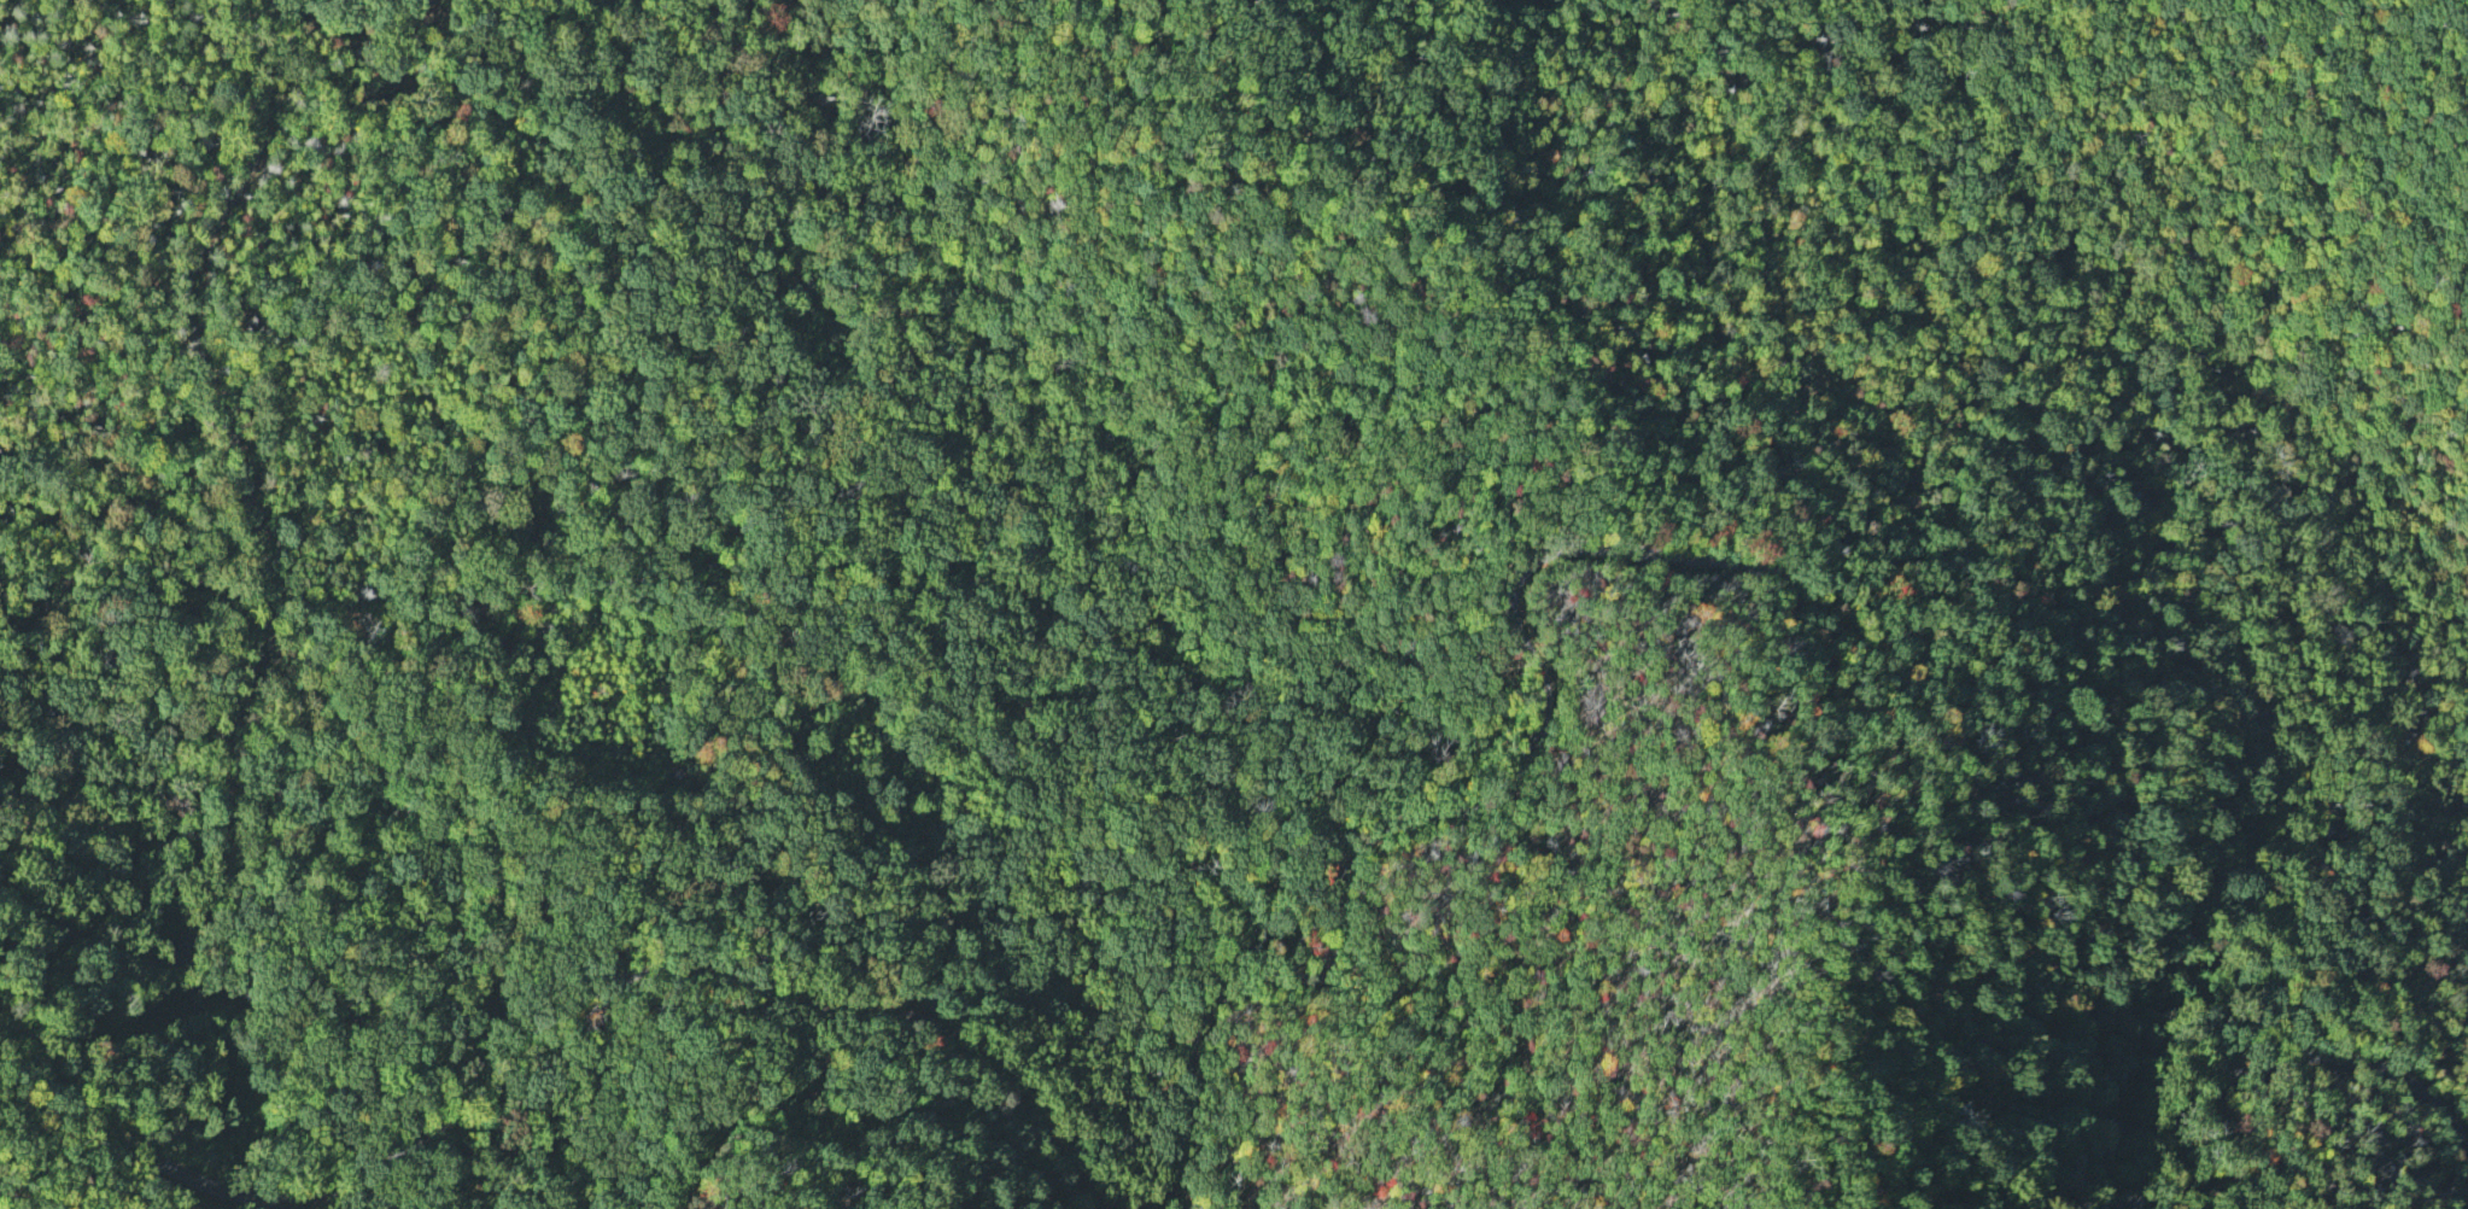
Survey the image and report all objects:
road: (257, 574)
road: (1791, 584)
road: (585, 1092)
road: (866, 1126)

